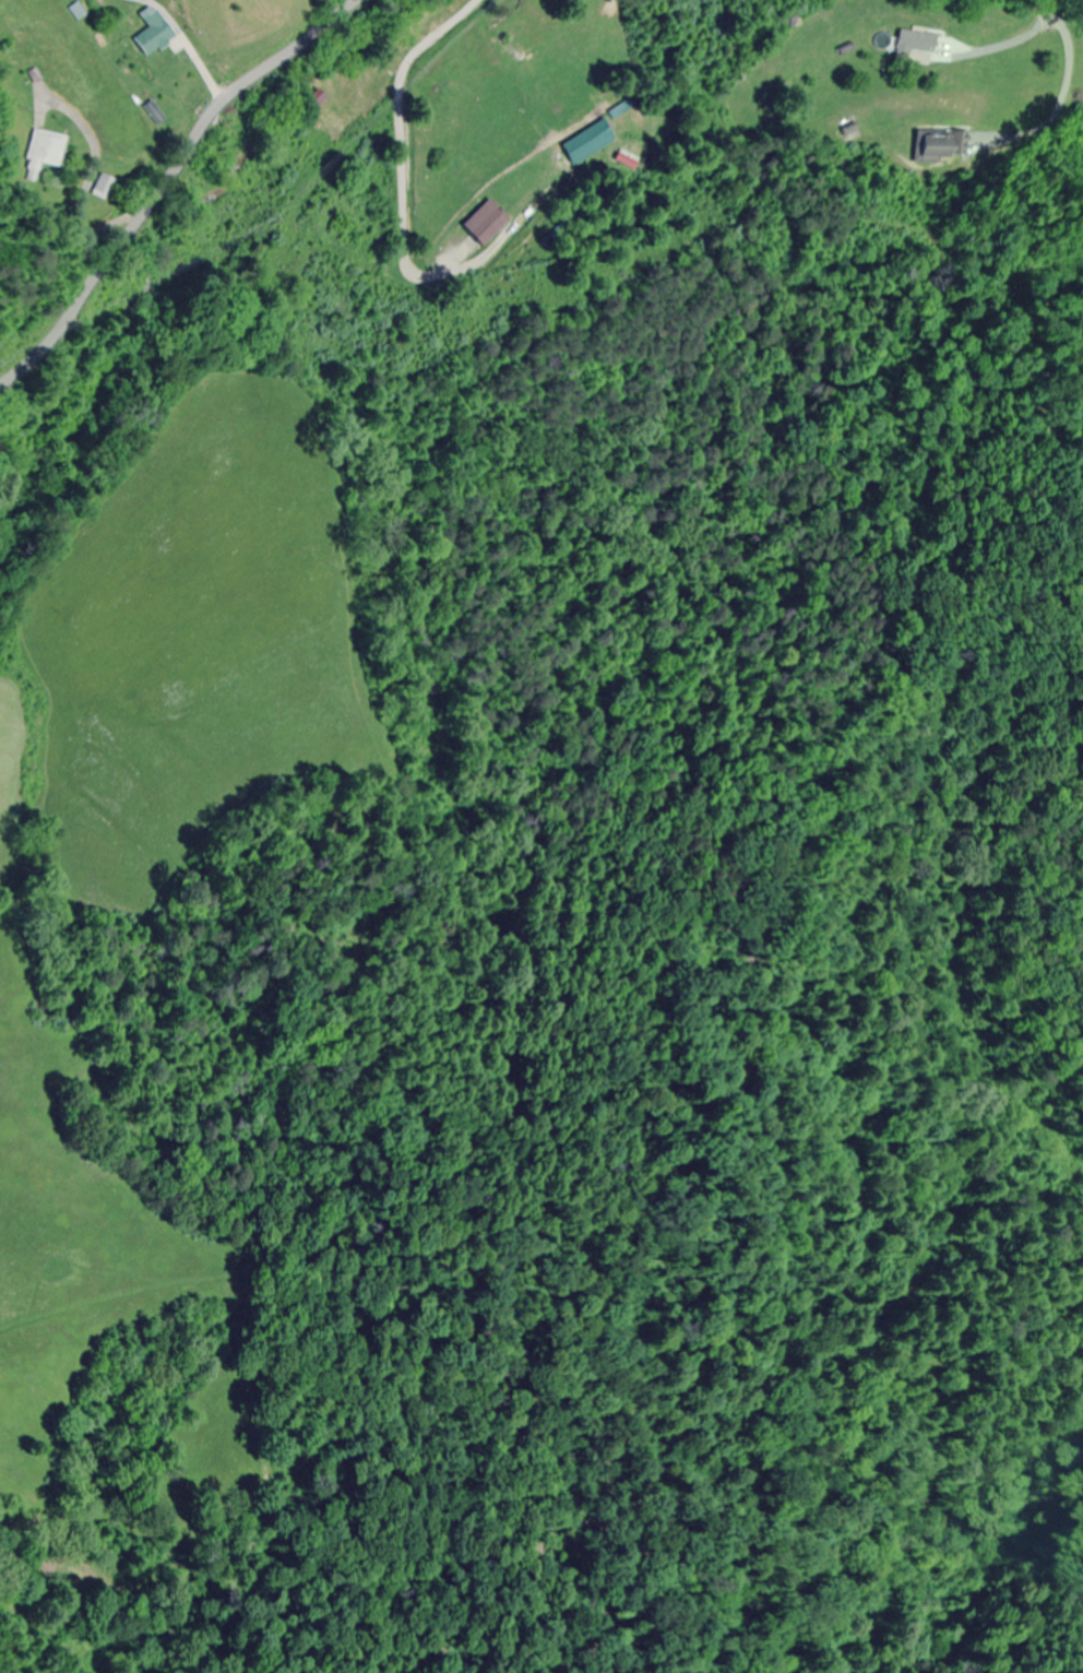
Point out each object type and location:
building: (157, 32)
building: (917, 43)
building: (320, 99)
building: (940, 144)
building: (41, 153)
road: (163, 179)
building: (100, 187)
building: (490, 222)

